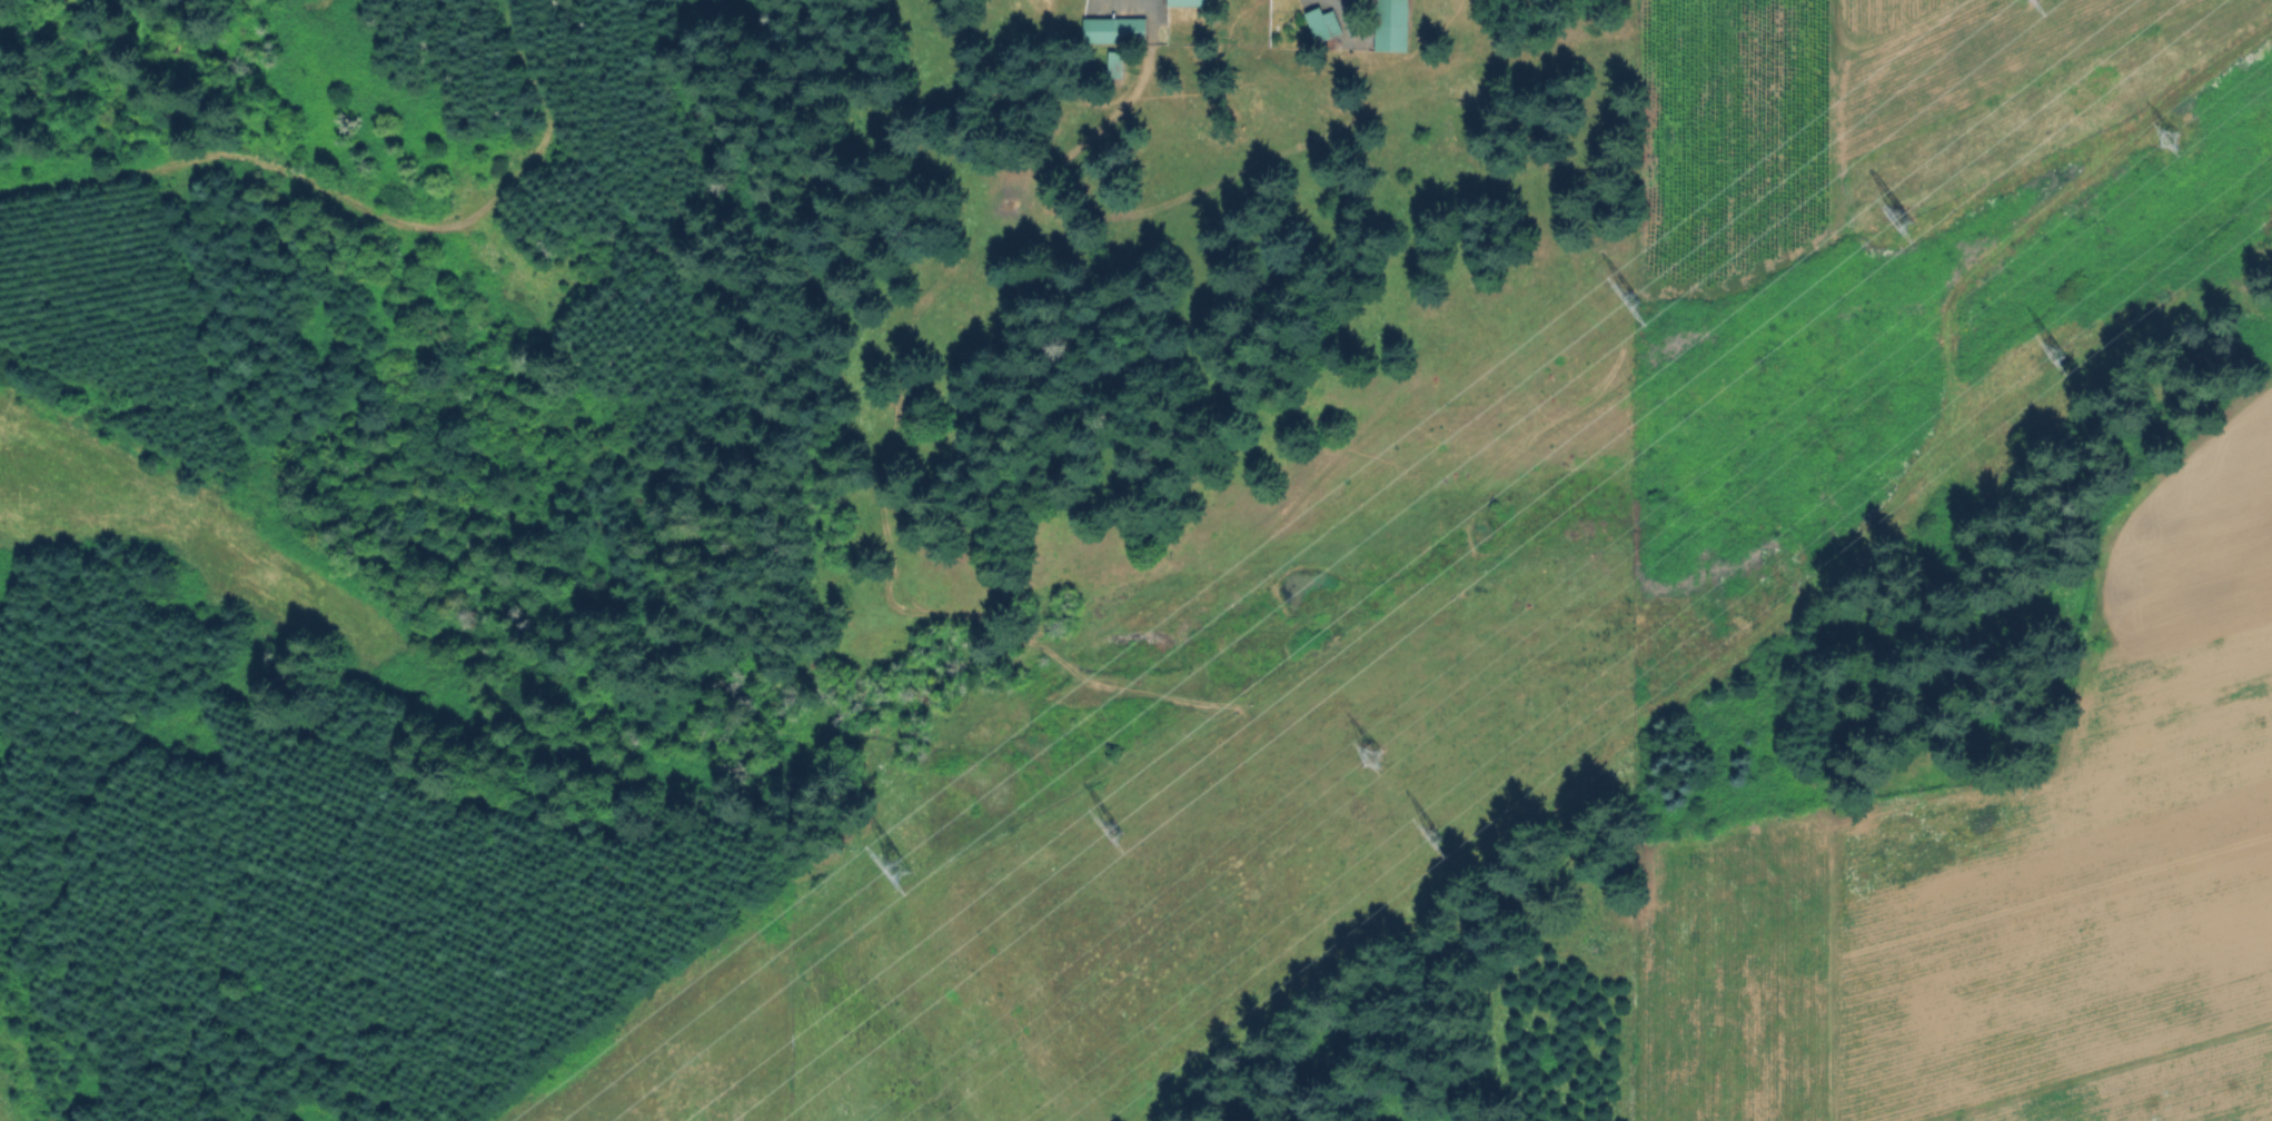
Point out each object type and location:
building: (1187, 2)
building: (1319, 24)
building: (1393, 26)
building: (1115, 30)
building: (1115, 65)
power tower: (2161, 138)
power tower: (1884, 212)
power tower: (1626, 294)
power tower: (2038, 351)
power tower: (1366, 750)
power tower: (1105, 831)
power tower: (1425, 832)
building: (1115, 837)
power tower: (887, 865)
crop: (1977, 889)

